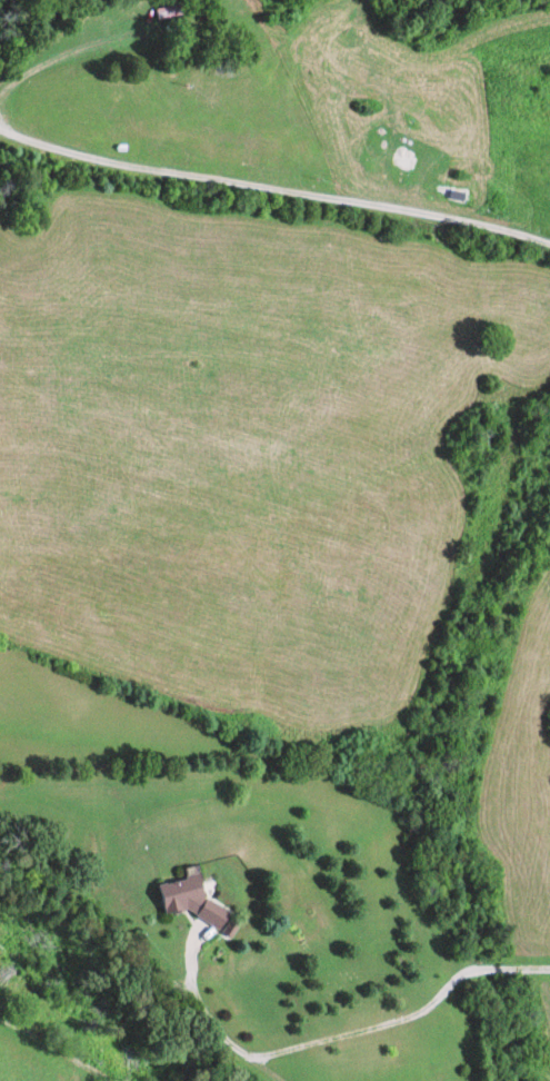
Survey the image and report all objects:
building: (168, 14)
road: (126, 686)
building: (200, 900)
road: (154, 942)

